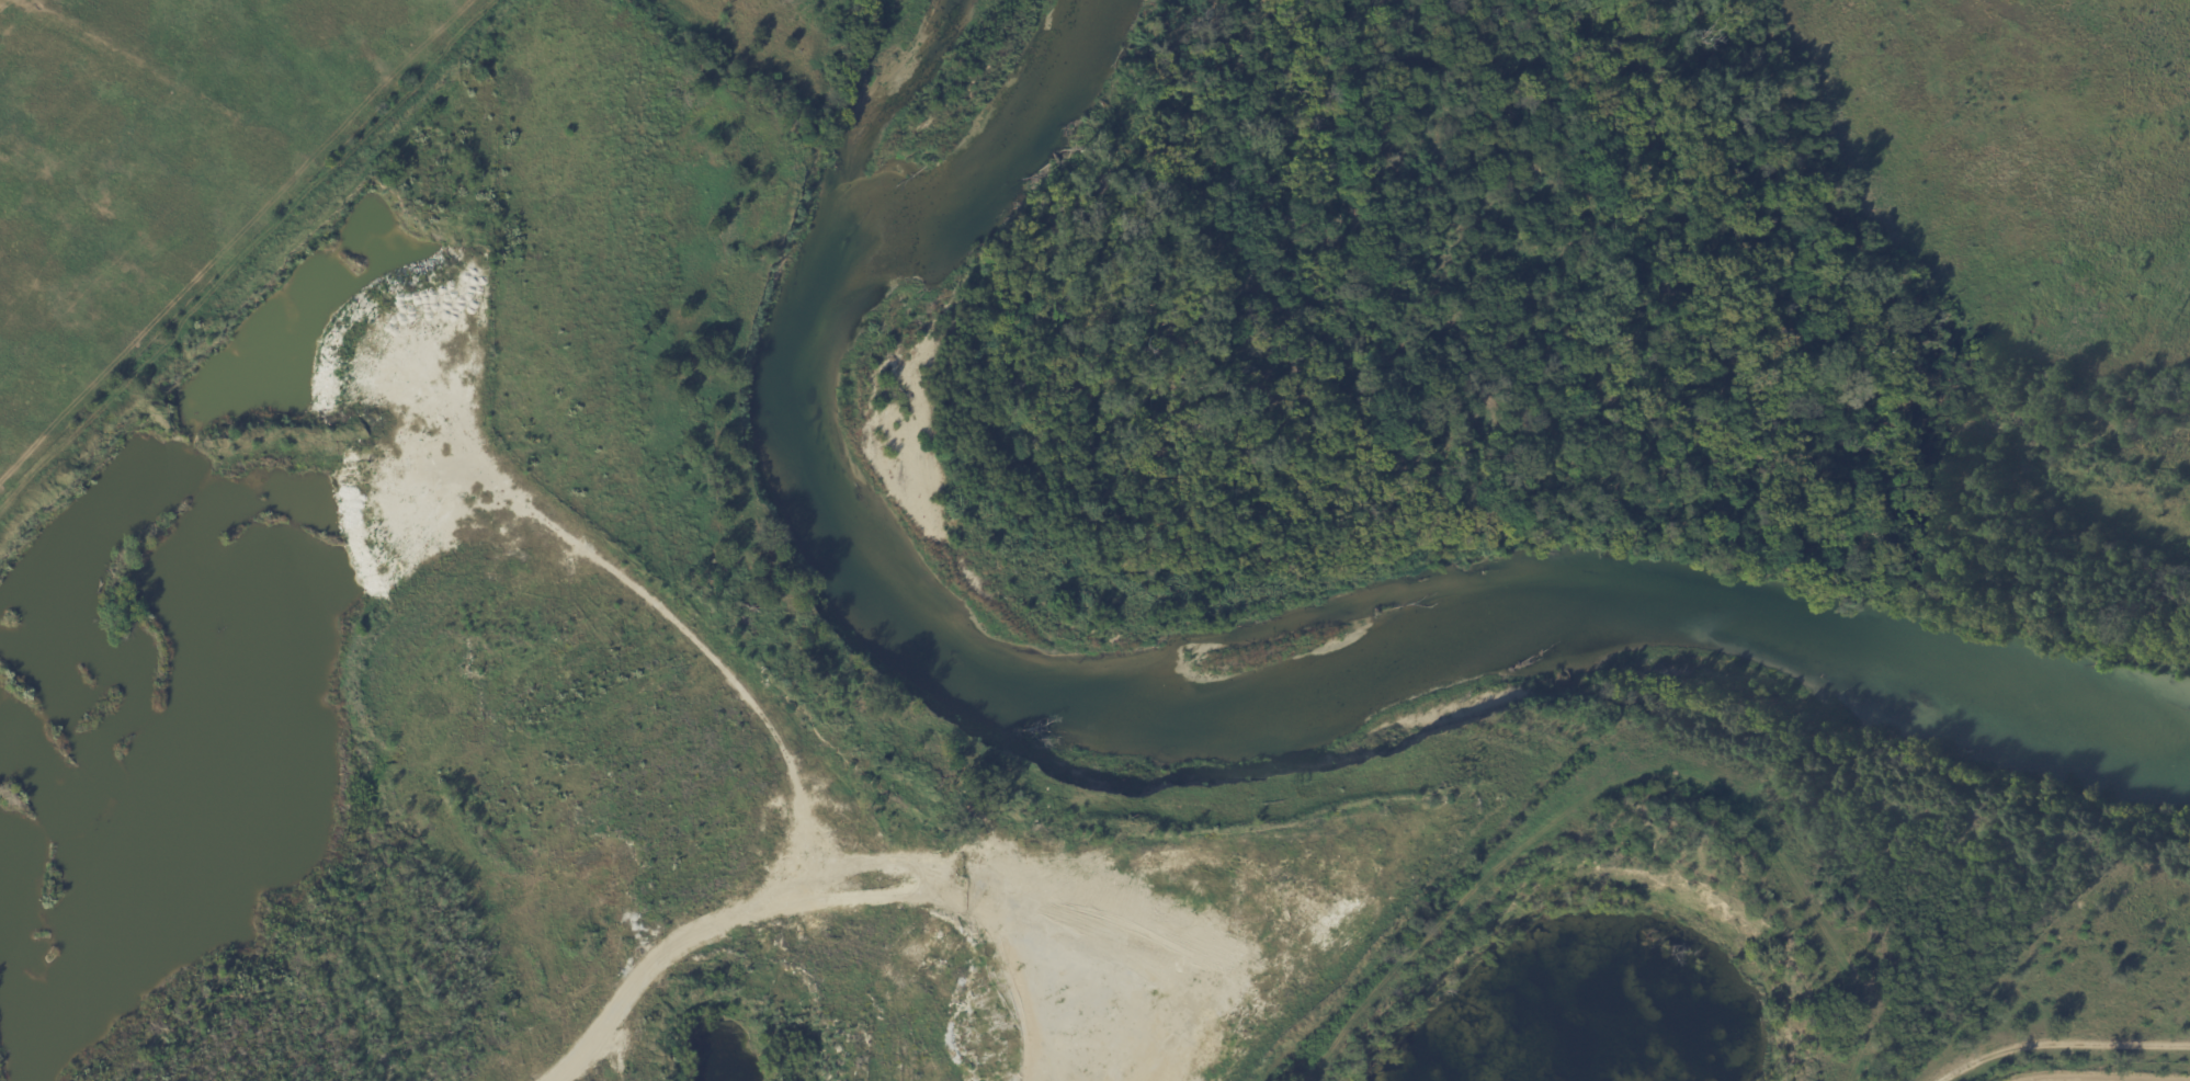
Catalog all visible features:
park: (1566, 318)
river: (1244, 655)
quarry: (603, 682)

